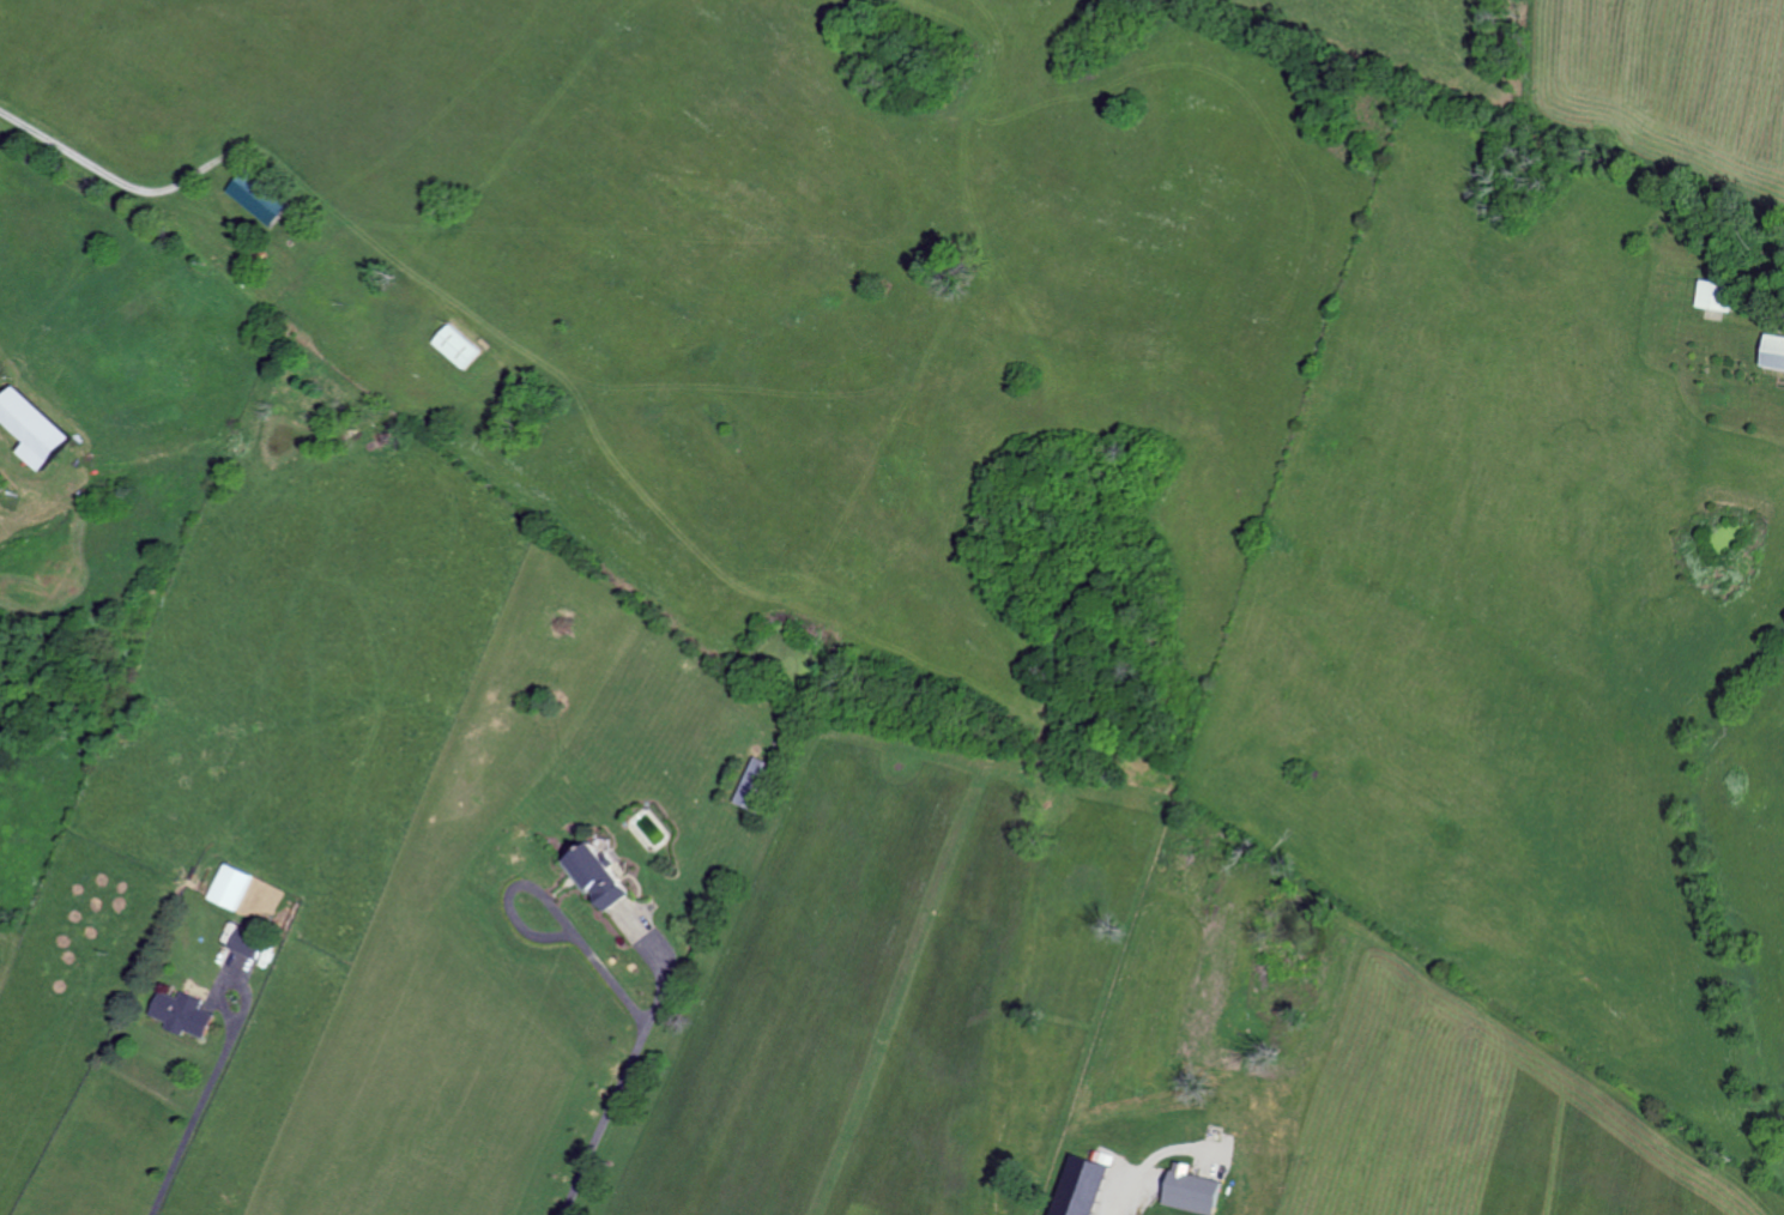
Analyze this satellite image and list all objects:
road: (101, 169)
building: (255, 197)
building: (1716, 295)
building: (455, 345)
building: (1774, 351)
building: (32, 427)
building: (751, 782)
building: (595, 876)
road: (518, 882)
building: (243, 893)
building: (243, 944)
building: (177, 1012)
road: (625, 1063)
road: (202, 1093)
building: (1081, 1184)

